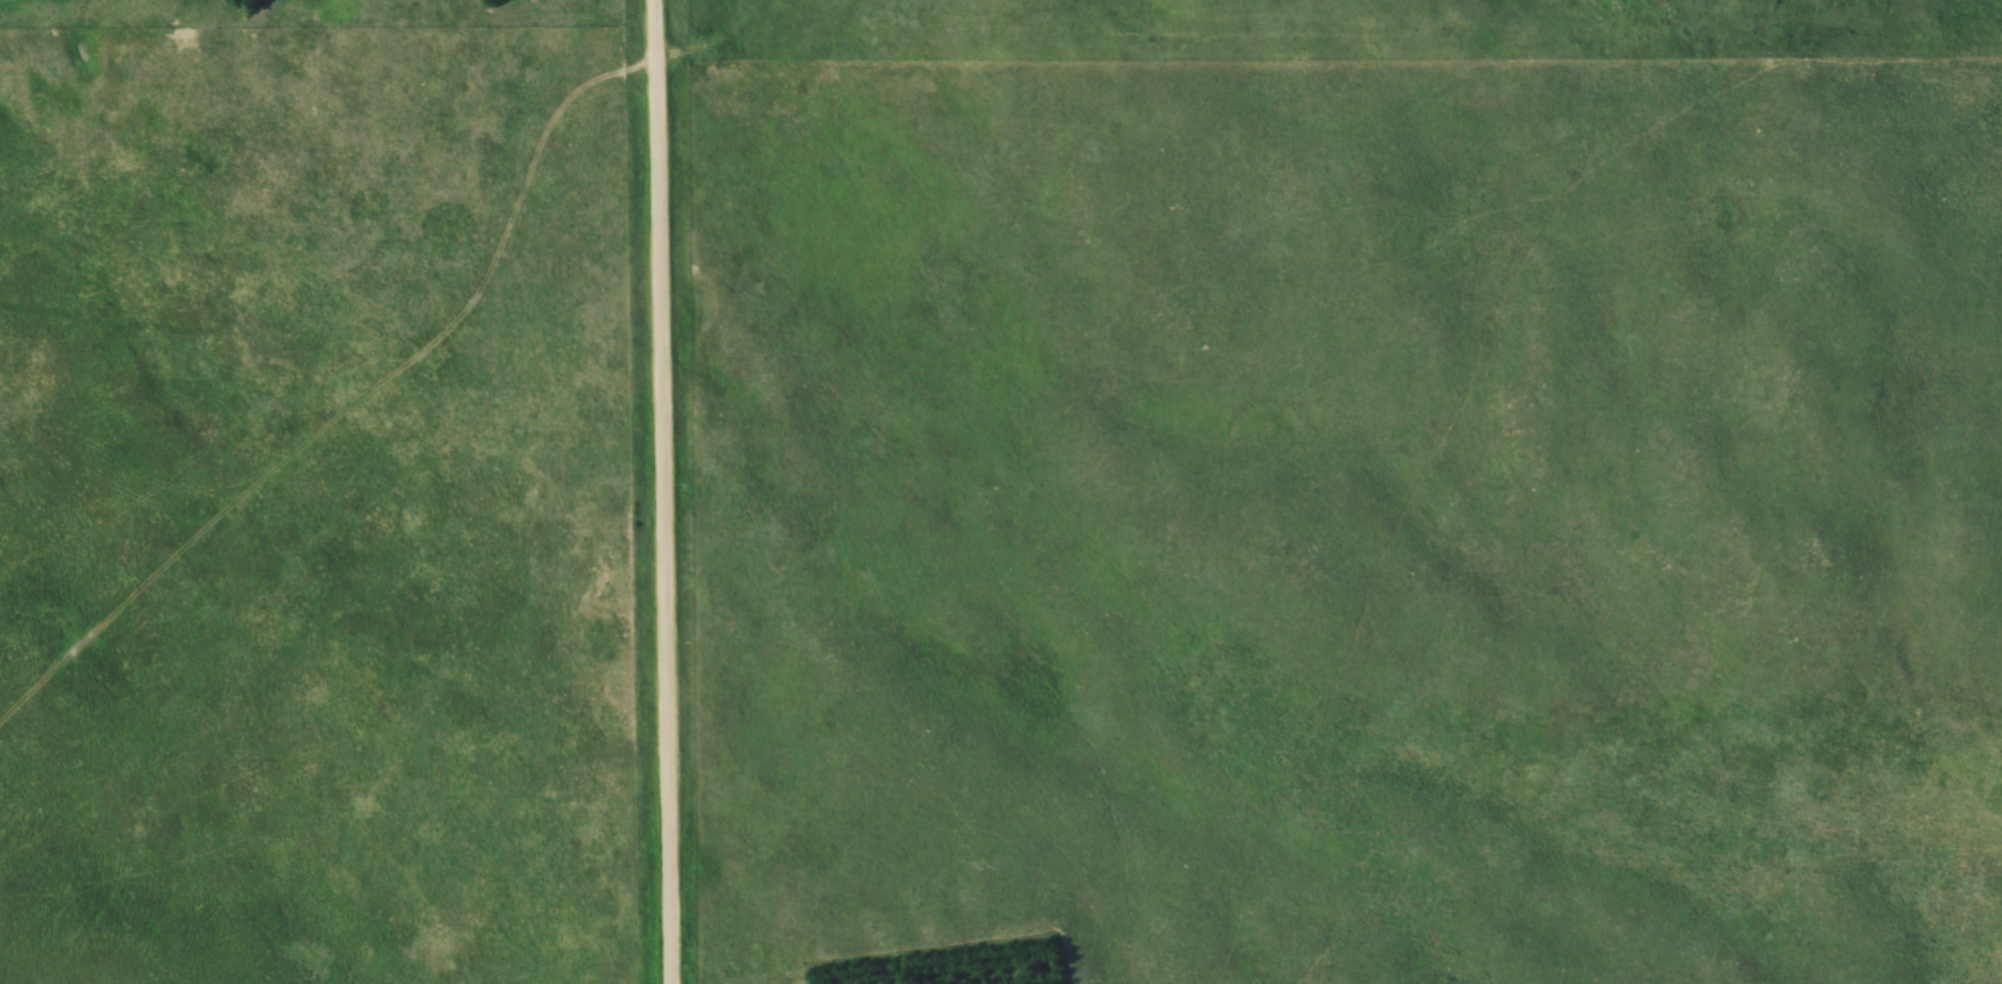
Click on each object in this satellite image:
road: (351, 402)
road: (661, 491)

